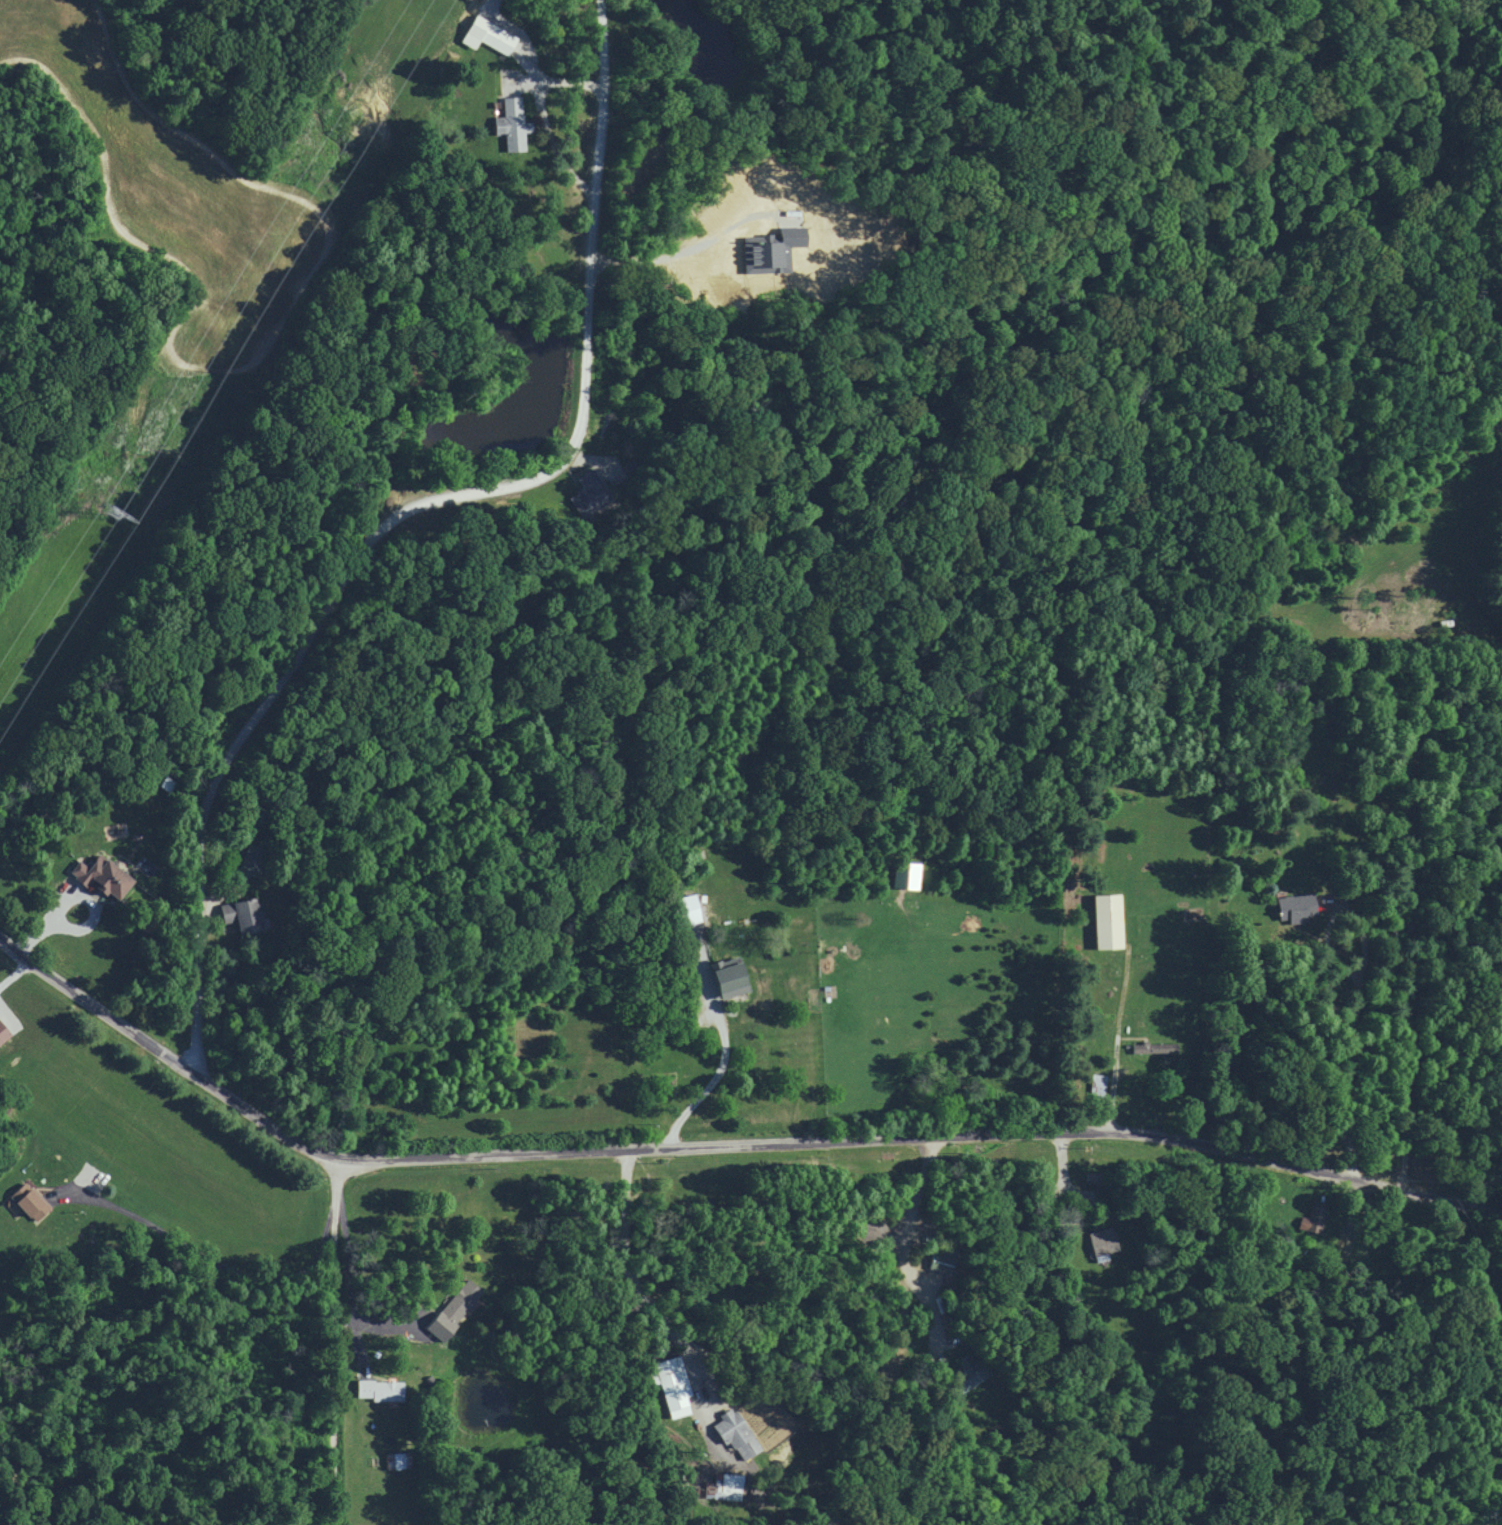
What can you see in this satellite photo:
building: (484, 35)
road: (569, 81)
building: (510, 124)
road: (548, 129)
road: (683, 254)
building: (587, 493)
road: (415, 508)
power tower: (110, 516)
building: (901, 876)
building: (98, 877)
road: (78, 895)
building: (1293, 907)
building: (687, 909)
building: (239, 914)
building: (1104, 919)
road: (13, 966)
building: (725, 976)
road: (1357, 986)
road: (1064, 1019)
building: (2, 1032)
road: (819, 1034)
road: (722, 1038)
building: (1152, 1047)
building: (1095, 1084)
road: (720, 1137)
building: (26, 1200)
building: (1311, 1217)
road: (906, 1240)
building: (1100, 1243)
road: (624, 1255)
road: (211, 1259)
road: (344, 1272)
building: (451, 1308)
road: (334, 1339)
building: (966, 1374)
building: (669, 1384)
building: (378, 1389)
building: (734, 1433)
building: (397, 1459)
building: (1500, 1471)
building: (722, 1486)

